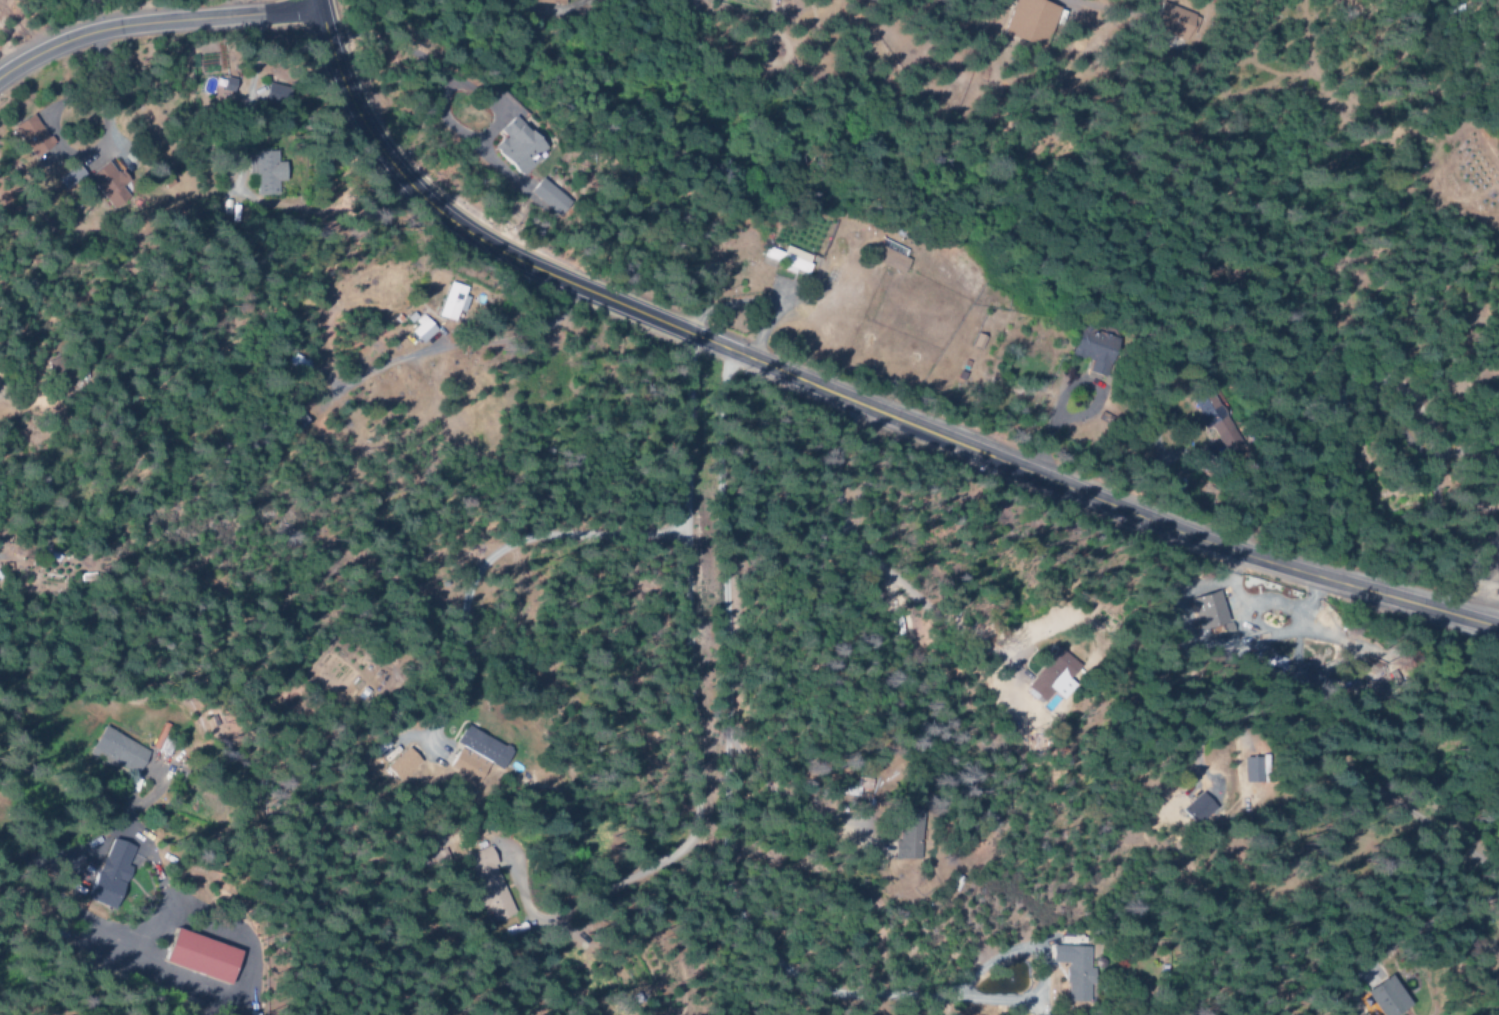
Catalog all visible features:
building: (545, 1)
building: (1168, 21)
road: (153, 22)
building: (1023, 23)
building: (215, 88)
building: (29, 136)
building: (514, 148)
building: (261, 173)
building: (102, 186)
building: (545, 201)
building: (786, 260)
building: (885, 260)
building: (447, 303)
building: (419, 331)
building: (1088, 349)
road: (840, 399)
building: (1207, 410)
road: (494, 555)
road: (880, 564)
building: (1206, 613)
building: (1045, 676)
road: (687, 709)
building: (115, 752)
building: (475, 755)
building: (399, 766)
building: (1247, 771)
building: (1193, 812)
building: (902, 837)
building: (106, 875)
building: (484, 886)
building: (198, 957)
building: (1069, 972)
building: (1381, 998)

